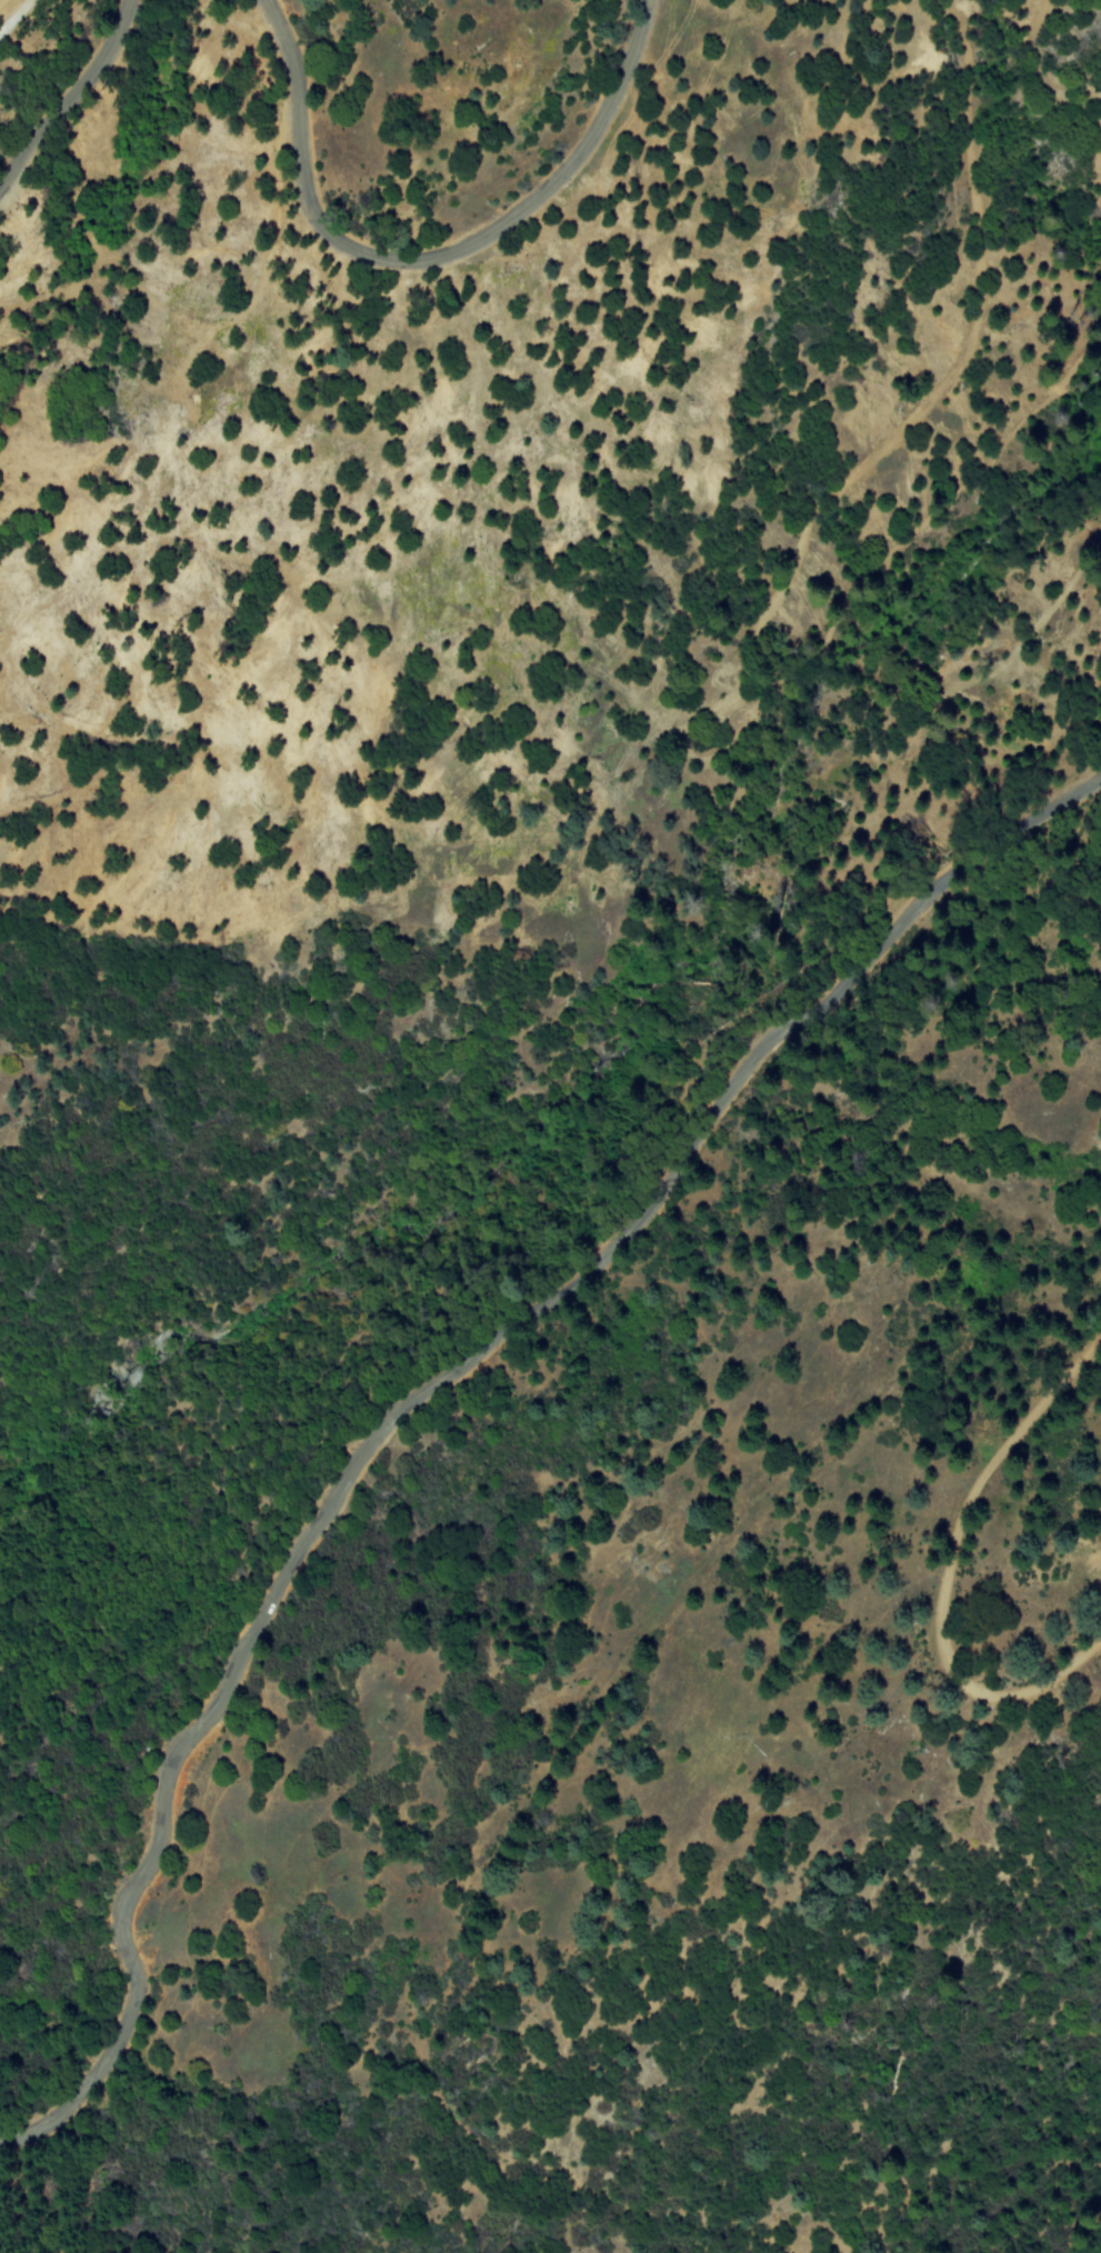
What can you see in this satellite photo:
road: (70, 96)
road: (430, 259)
road: (429, 1385)

